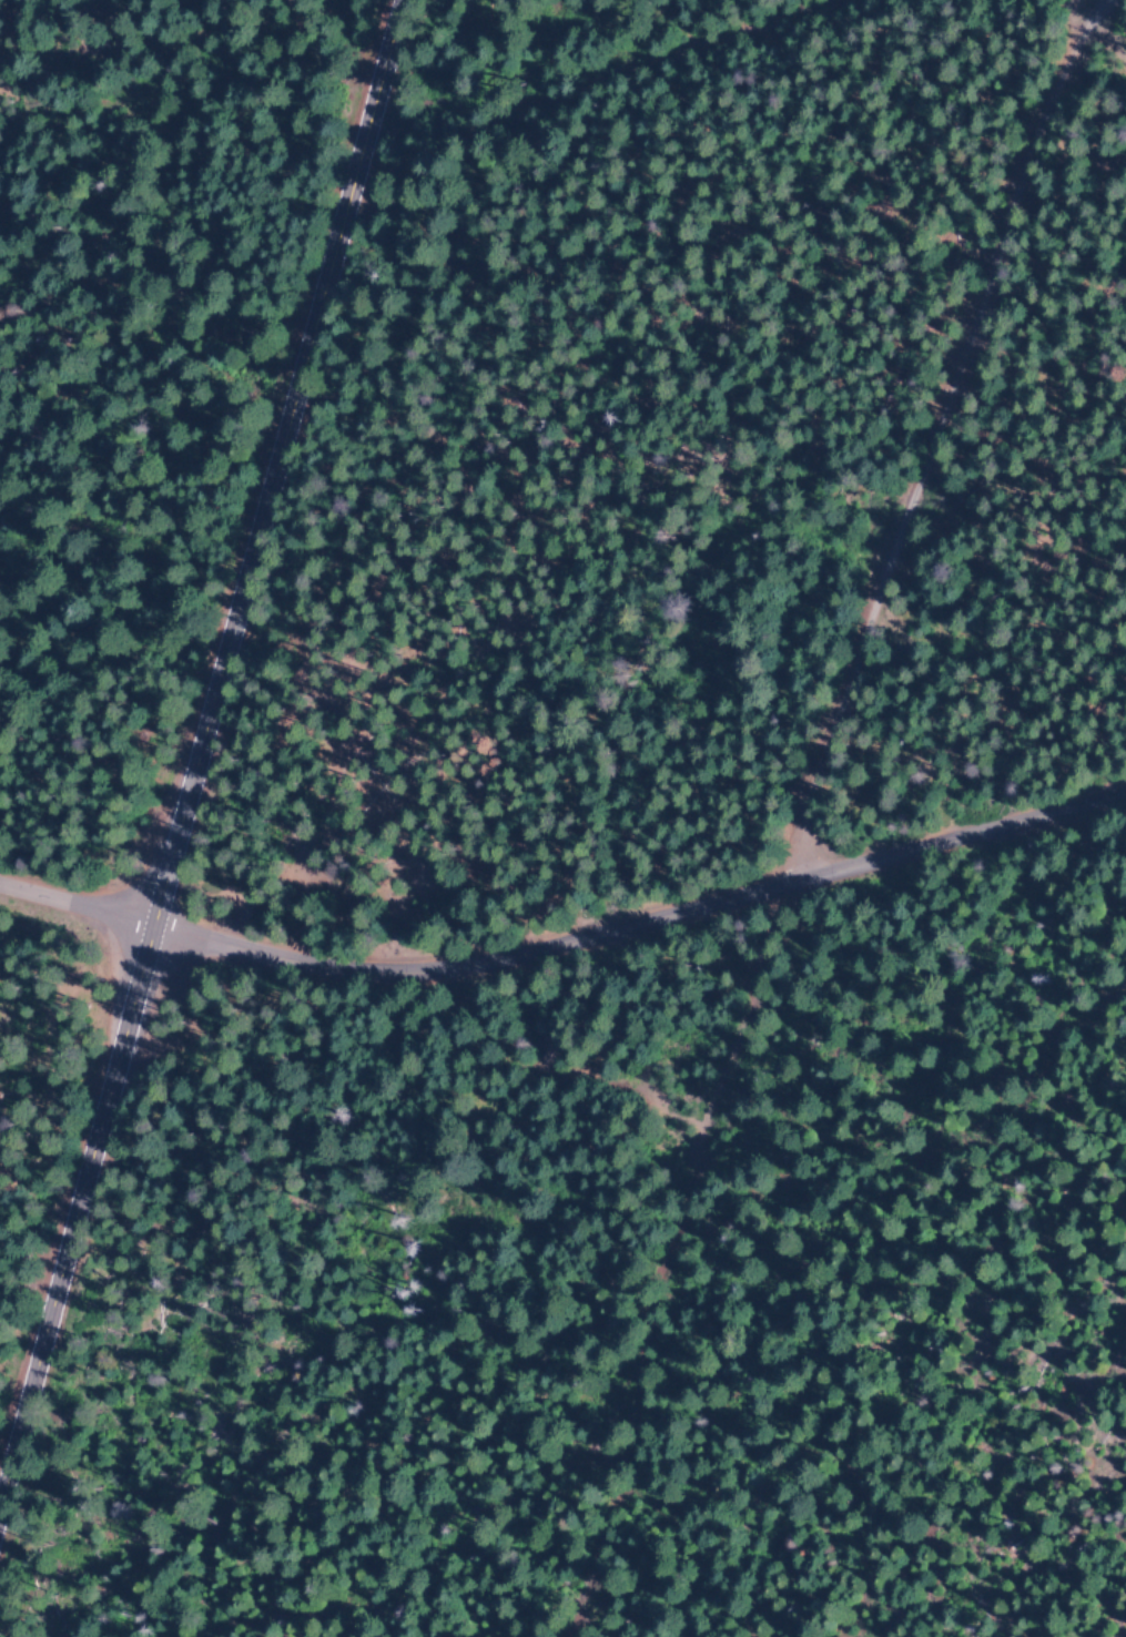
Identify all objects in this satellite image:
road: (919, 429)
road: (182, 730)
road: (643, 886)
road: (74, 899)
road: (846, 1131)
road: (935, 1445)

